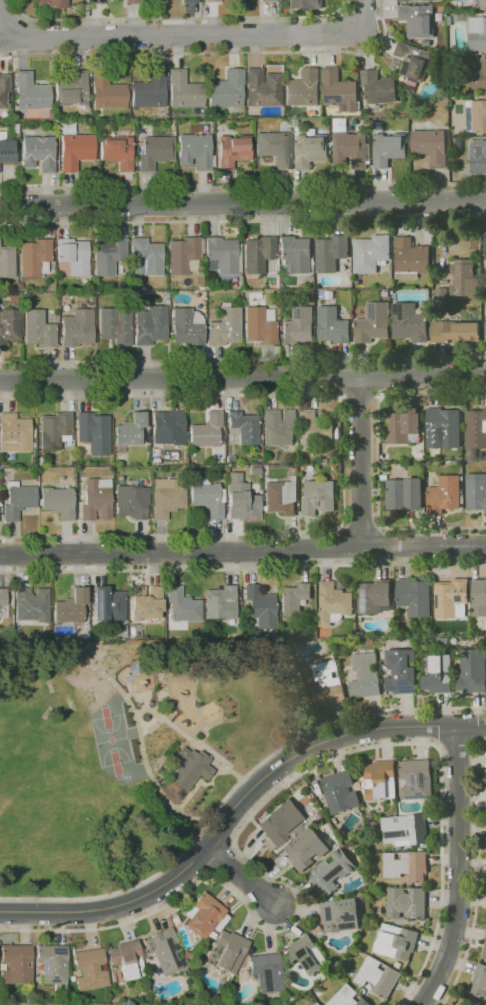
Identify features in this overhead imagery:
building: (84, 0)
building: (405, 0)
building: (190, 1)
building: (213, 1)
building: (269, 1)
building: (96, 2)
building: (134, 2)
building: (53, 4)
building: (309, 4)
building: (483, 4)
building: (419, 19)
building: (450, 20)
road: (182, 21)
building: (474, 30)
road: (189, 33)
building: (424, 42)
road: (210, 49)
building: (415, 63)
building: (479, 78)
building: (379, 87)
building: (263, 88)
building: (304, 88)
building: (4, 89)
building: (73, 90)
building: (150, 90)
building: (185, 90)
building: (227, 90)
building: (340, 90)
building: (108, 91)
building: (31, 92)
building: (479, 116)
building: (295, 121)
building: (366, 122)
building: (66, 127)
building: (15, 128)
building: (23, 128)
building: (274, 146)
building: (431, 146)
building: (7, 148)
building: (389, 148)
building: (351, 149)
building: (233, 150)
building: (312, 150)
building: (76, 151)
building: (118, 151)
building: (195, 151)
building: (155, 152)
building: (39, 153)
building: (479, 157)
road: (243, 185)
road: (243, 203)
road: (243, 218)
building: (485, 242)
building: (331, 252)
building: (371, 252)
building: (110, 253)
building: (258, 253)
building: (296, 254)
building: (185, 255)
building: (222, 255)
building: (73, 256)
building: (36, 257)
building: (147, 257)
building: (411, 258)
building: (7, 261)
building: (52, 272)
building: (463, 278)
building: (240, 284)
building: (429, 284)
building: (169, 286)
building: (232, 286)
building: (479, 286)
building: (165, 287)
building: (135, 293)
building: (386, 293)
building: (167, 294)
building: (255, 295)
building: (330, 295)
building: (312, 296)
building: (442, 296)
building: (468, 302)
building: (410, 322)
building: (374, 323)
building: (10, 325)
building: (151, 325)
building: (260, 325)
building: (299, 325)
building: (333, 325)
building: (115, 326)
building: (188, 326)
building: (226, 326)
building: (485, 327)
building: (78, 328)
building: (39, 329)
building: (456, 331)
road: (243, 359)
road: (243, 377)
road: (360, 396)
building: (445, 424)
building: (404, 425)
building: (169, 428)
building: (244, 428)
building: (280, 428)
building: (476, 429)
building: (56, 430)
building: (207, 430)
building: (93, 431)
building: (316, 431)
building: (131, 432)
building: (15, 433)
building: (34, 444)
building: (228, 449)
building: (208, 451)
building: (471, 453)
building: (419, 455)
building: (156, 457)
building: (218, 459)
building: (231, 459)
road: (378, 459)
building: (41, 461)
building: (326, 461)
road: (343, 461)
road: (361, 461)
building: (295, 466)
building: (191, 467)
building: (265, 468)
building: (121, 471)
building: (132, 471)
building: (121, 482)
building: (228, 487)
building: (476, 491)
building: (405, 493)
building: (445, 494)
building: (318, 495)
building: (208, 496)
building: (282, 496)
building: (167, 497)
building: (18, 500)
building: (96, 501)
building: (59, 502)
building: (131, 502)
building: (243, 502)
road: (362, 525)
road: (243, 552)
road: (243, 569)
building: (480, 592)
building: (415, 596)
building: (375, 597)
building: (452, 598)
building: (295, 599)
building: (260, 602)
building: (221, 603)
building: (334, 603)
building: (3, 604)
building: (109, 604)
building: (147, 604)
building: (31, 605)
building: (183, 606)
building: (72, 608)
building: (245, 628)
building: (361, 634)
building: (370, 641)
building: (402, 670)
building: (472, 671)
building: (438, 674)
building: (364, 676)
building: (327, 684)
road: (139, 709)
park: (116, 740)
road: (458, 746)
road: (204, 749)
park: (131, 750)
building: (192, 768)
building: (416, 779)
building: (380, 780)
road: (202, 782)
road: (233, 789)
building: (341, 792)
road: (235, 807)
road: (251, 818)
building: (281, 821)
building: (405, 829)
building: (306, 849)
building: (406, 865)
road: (459, 869)
building: (332, 871)
road: (477, 874)
road: (240, 876)
building: (407, 902)
building: (341, 913)
building: (204, 915)
building: (320, 928)
building: (212, 935)
building: (397, 942)
building: (230, 950)
building: (167, 951)
building: (485, 953)
building: (307, 955)
building: (129, 959)
building: (17, 964)
building: (53, 964)
building: (398, 964)
building: (91, 969)
building: (267, 972)
building: (378, 976)
building: (480, 980)
building: (292, 991)
building: (349, 997)
building: (182, 1001)
building: (73, 1003)
building: (318, 1004)

